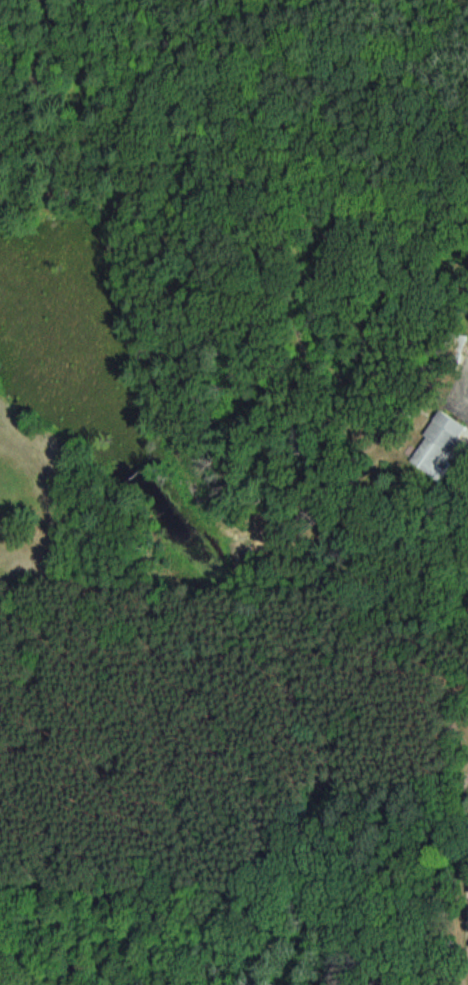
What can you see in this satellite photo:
road: (66, 35)
building: (441, 442)
road: (201, 666)
road: (229, 981)

